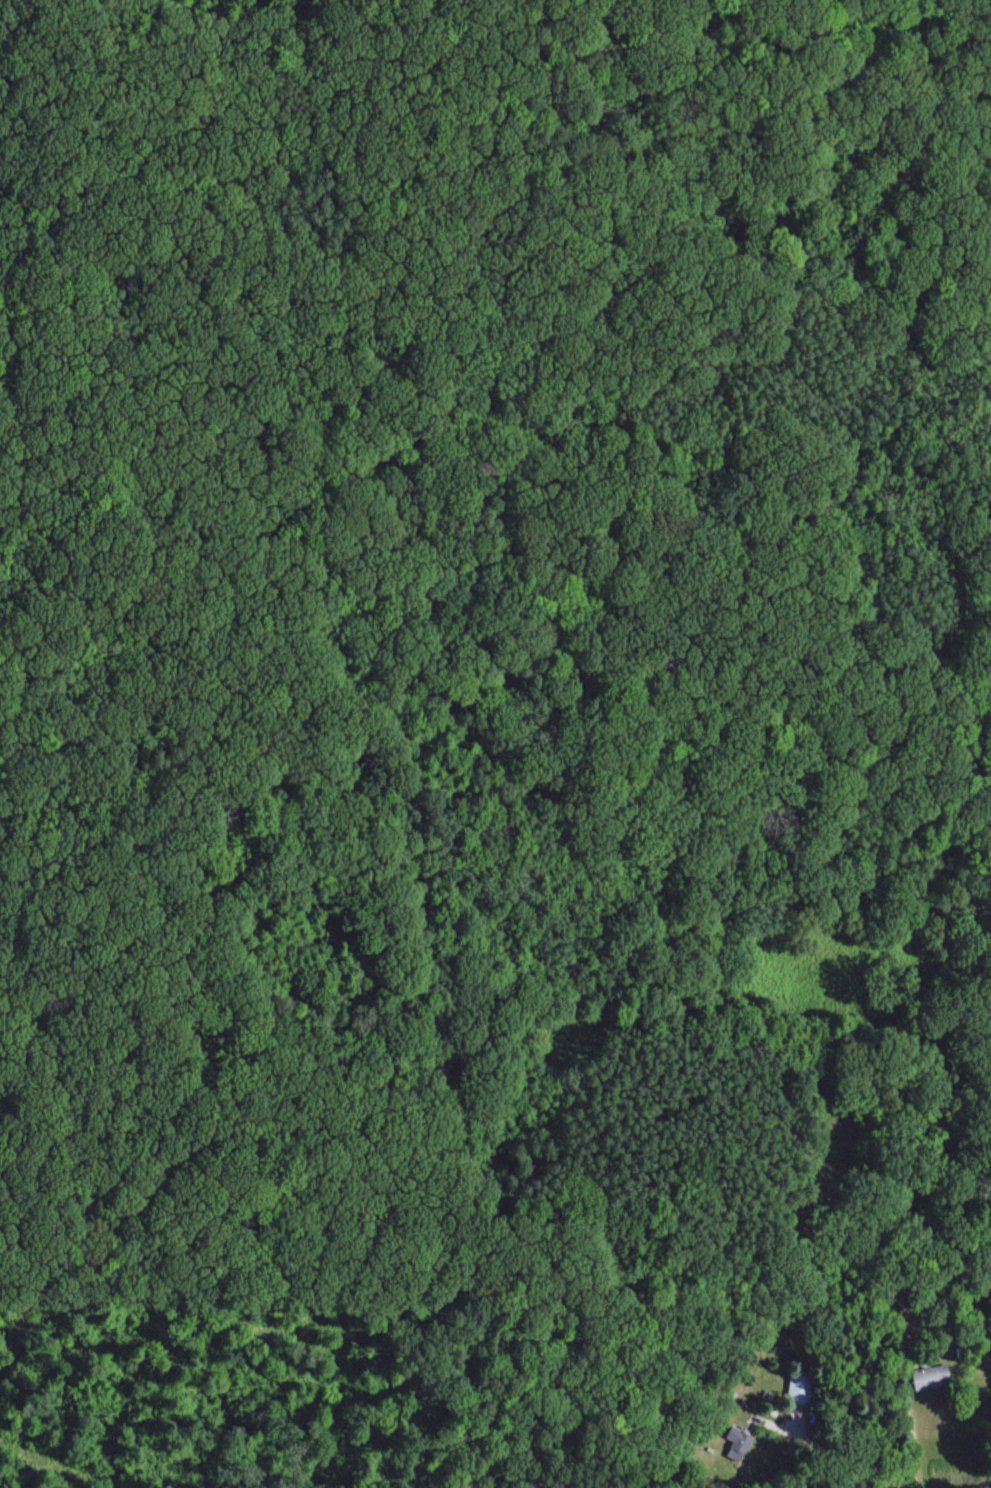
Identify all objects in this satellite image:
building: (929, 1376)
building: (798, 1388)
building: (736, 1443)

